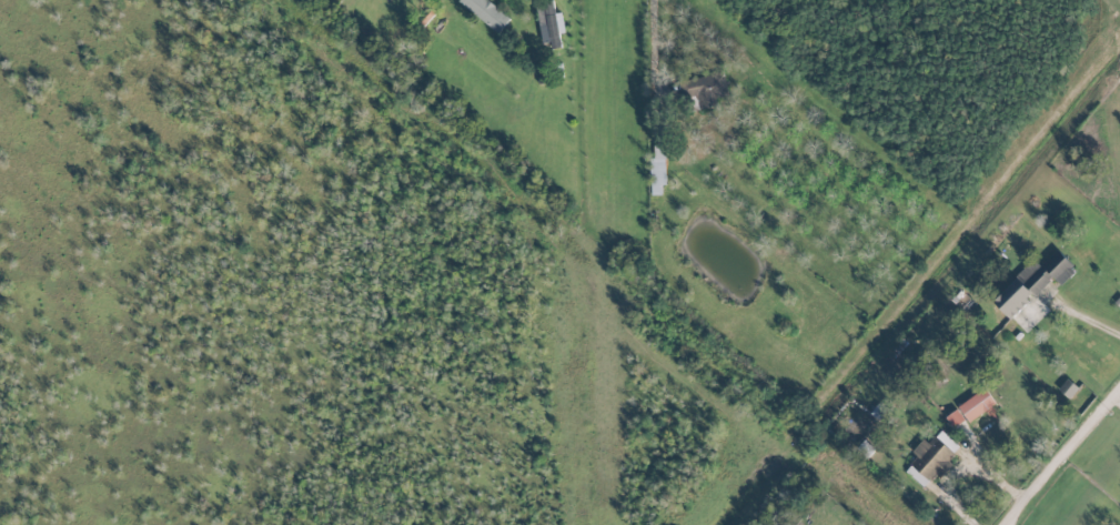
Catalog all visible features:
building: (486, 12)
building: (548, 23)
road: (649, 54)
building: (706, 88)
building: (657, 169)
building: (1032, 282)
road: (1090, 326)
building: (1067, 387)
building: (970, 407)
building: (931, 457)
road: (1069, 464)
road: (969, 470)

